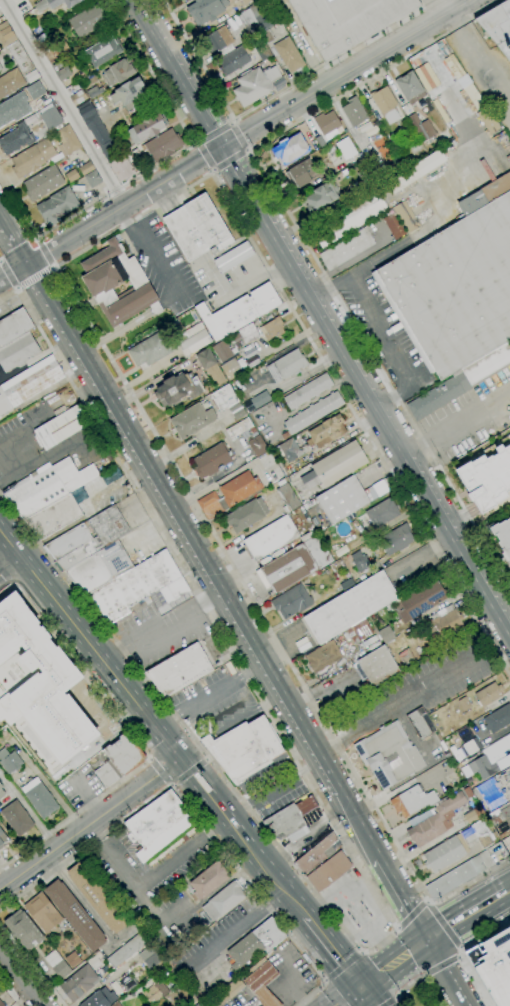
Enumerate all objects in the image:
building: (184, 0)
building: (245, 2)
building: (54, 4)
road: (440, 7)
building: (23, 10)
building: (206, 10)
building: (247, 17)
building: (88, 20)
building: (347, 21)
building: (262, 22)
building: (498, 26)
building: (39, 33)
building: (6, 35)
building: (268, 38)
building: (219, 41)
building: (104, 51)
building: (56, 52)
building: (263, 52)
building: (289, 55)
building: (20, 57)
building: (233, 60)
road: (477, 63)
building: (1, 68)
building: (62, 73)
building: (118, 73)
building: (272, 74)
building: (32, 76)
building: (10, 82)
building: (252, 87)
building: (410, 88)
building: (35, 91)
building: (94, 92)
building: (75, 94)
building: (129, 94)
road: (273, 95)
road: (60, 103)
building: (385, 104)
building: (13, 109)
building: (85, 110)
building: (354, 112)
building: (49, 116)
building: (487, 120)
road: (229, 122)
building: (326, 122)
road: (232, 123)
building: (43, 124)
building: (147, 128)
building: (421, 128)
building: (96, 129)
road: (213, 131)
road: (239, 137)
road: (234, 138)
building: (16, 139)
road: (198, 141)
building: (320, 141)
building: (65, 143)
road: (197, 144)
building: (162, 145)
traffic signals: (222, 146)
building: (290, 149)
building: (346, 149)
building: (111, 150)
road: (247, 150)
road: (246, 152)
road: (205, 156)
road: (204, 157)
building: (32, 158)
road: (231, 162)
road: (156, 165)
building: (86, 168)
building: (124, 168)
road: (212, 170)
road: (215, 171)
building: (415, 171)
building: (303, 172)
building: (71, 175)
building: (93, 179)
building: (43, 182)
flagpole: (187, 193)
building: (321, 197)
road: (163, 199)
building: (58, 207)
building: (350, 218)
building: (393, 226)
building: (197, 228)
road: (302, 242)
road: (147, 247)
building: (347, 248)
road: (47, 251)
road: (254, 276)
road: (7, 278)
road: (36, 280)
building: (117, 284)
building: (454, 289)
road: (69, 294)
building: (238, 312)
road: (321, 314)
building: (14, 326)
building: (271, 328)
road: (377, 328)
building: (249, 333)
building: (236, 338)
building: (193, 339)
building: (150, 350)
building: (17, 352)
building: (221, 352)
building: (205, 359)
building: (285, 365)
building: (231, 369)
building: (215, 375)
building: (462, 381)
building: (29, 383)
building: (178, 389)
building: (307, 391)
building: (260, 399)
building: (228, 402)
building: (312, 414)
building: (192, 420)
road: (457, 424)
building: (61, 427)
road: (23, 428)
building: (242, 429)
building: (326, 431)
building: (257, 446)
building: (288, 449)
road: (53, 452)
building: (212, 460)
building: (331, 468)
road: (8, 479)
building: (48, 486)
building: (239, 488)
building: (288, 497)
building: (342, 500)
building: (210, 506)
building: (382, 513)
building: (246, 515)
building: (54, 517)
building: (345, 528)
building: (503, 536)
building: (270, 538)
building: (87, 539)
building: (396, 540)
building: (318, 551)
building: (425, 551)
road: (429, 557)
building: (360, 562)
building: (509, 564)
road: (9, 565)
building: (99, 568)
building: (287, 569)
road: (213, 580)
road: (4, 581)
building: (347, 585)
building: (137, 588)
building: (291, 601)
building: (420, 601)
building: (350, 607)
building: (447, 622)
road: (160, 626)
road: (75, 630)
building: (359, 631)
building: (386, 634)
building: (409, 655)
building: (323, 656)
building: (182, 668)
building: (375, 668)
building: (38, 689)
building: (488, 694)
road: (208, 696)
road: (397, 701)
building: (464, 703)
road: (246, 716)
building: (497, 719)
building: (419, 723)
road: (133, 739)
road: (205, 739)
road: (164, 744)
building: (472, 746)
building: (244, 749)
road: (189, 751)
building: (389, 755)
building: (119, 760)
road: (149, 760)
traffic signals: (177, 760)
building: (490, 760)
building: (9, 761)
road: (207, 761)
road: (160, 771)
road: (190, 773)
road: (190, 773)
road: (261, 773)
road: (193, 778)
road: (170, 784)
road: (173, 786)
road: (273, 790)
building: (1, 791)
building: (490, 793)
building: (39, 798)
building: (412, 801)
road: (27, 811)
road: (192, 814)
building: (500, 815)
building: (470, 817)
building: (17, 818)
building: (290, 820)
building: (436, 821)
road: (88, 823)
building: (158, 825)
building: (3, 839)
building: (485, 839)
building: (506, 839)
building: (318, 853)
building: (443, 854)
road: (362, 869)
building: (329, 871)
road: (149, 879)
building: (450, 880)
building: (208, 881)
road: (508, 888)
road: (284, 895)
building: (97, 898)
road: (79, 899)
building: (224, 900)
road: (426, 902)
road: (430, 904)
building: (42, 912)
road: (467, 912)
road: (412, 914)
building: (75, 915)
gas station: (365, 916)
road: (443, 926)
road: (232, 928)
road: (398, 928)
building: (23, 929)
road: (484, 932)
traffic signals: (430, 938)
road: (116, 939)
building: (255, 943)
building: (128, 949)
road: (360, 951)
road: (460, 952)
building: (150, 956)
building: (72, 959)
building: (57, 964)
road: (396, 964)
road: (342, 965)
road: (31, 966)
road: (441, 966)
building: (493, 966)
road: (450, 971)
road: (425, 976)
road: (324, 978)
road: (20, 979)
road: (474, 980)
building: (79, 983)
building: (128, 983)
road: (324, 983)
building: (262, 984)
road: (409, 987)
building: (154, 991)
traffic signals: (362, 991)
road: (10, 992)
building: (226, 992)
park: (419, 993)
road: (334, 995)
road: (351, 998)
road: (368, 998)
road: (394, 998)
building: (99, 999)
road: (389, 1002)
road: (398, 1002)
building: (1, 1004)
building: (116, 1004)

